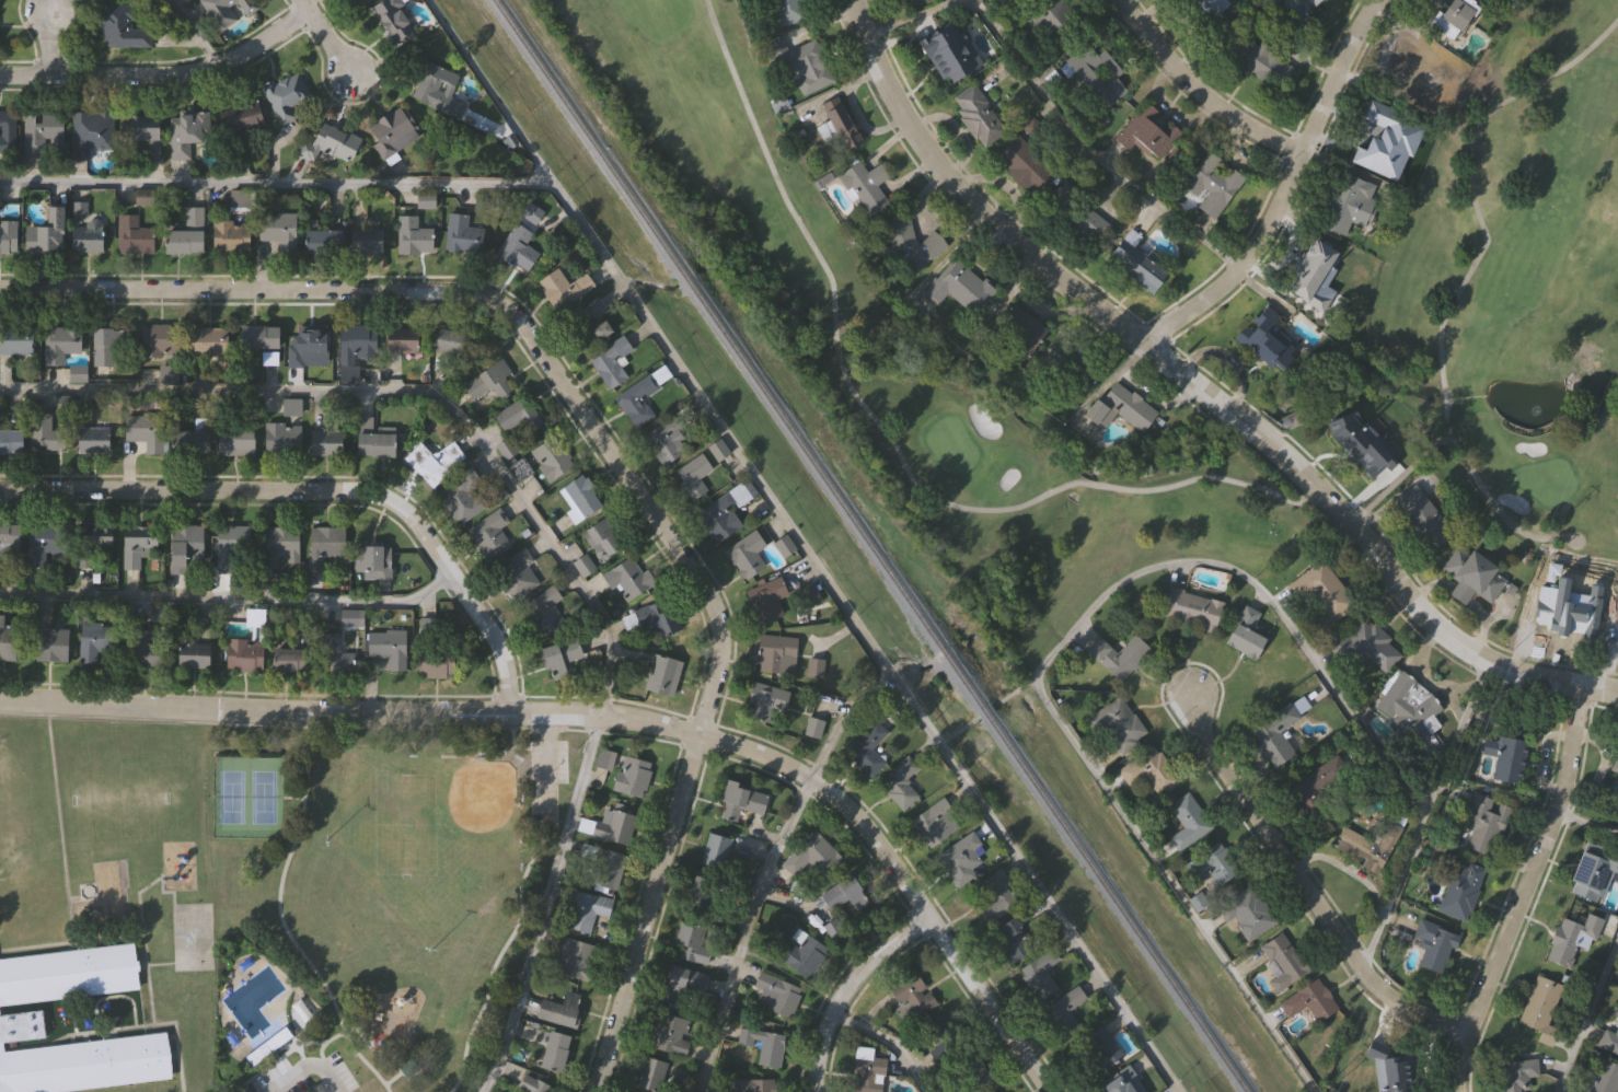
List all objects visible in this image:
building: (358, 1)
building: (1311, 1)
building: (1202, 8)
building: (229, 10)
building: (784, 10)
building: (1051, 14)
building: (1451, 16)
building: (397, 18)
building: (123, 24)
road: (195, 32)
road: (324, 35)
road: (48, 42)
building: (946, 50)
building: (1258, 59)
building: (805, 66)
building: (1094, 72)
building: (1403, 73)
road: (162, 74)
building: (439, 85)
road: (1203, 89)
building: (289, 93)
building: (976, 114)
road: (1053, 114)
building: (246, 115)
building: (835, 125)
building: (1369, 127)
building: (147, 128)
building: (194, 128)
building: (1145, 129)
building: (92, 130)
building: (396, 130)
building: (9, 132)
building: (46, 135)
building: (333, 142)
building: (1021, 165)
building: (1211, 182)
building: (864, 184)
road: (276, 185)
road: (1283, 189)
building: (240, 196)
building: (1349, 196)
building: (1087, 222)
building: (281, 224)
building: (89, 226)
building: (51, 231)
building: (189, 231)
building: (465, 232)
building: (10, 234)
building: (136, 234)
building: (233, 234)
building: (417, 234)
building: (372, 237)
building: (326, 240)
building: (910, 243)
building: (521, 246)
road: (1480, 254)
building: (1309, 267)
building: (1143, 270)
building: (567, 284)
building: (958, 284)
park: (1514, 286)
building: (592, 322)
building: (1024, 330)
building: (263, 335)
building: (407, 337)
building: (18, 338)
building: (162, 338)
building: (456, 338)
building: (1263, 338)
building: (211, 340)
building: (62, 341)
building: (308, 341)
building: (108, 345)
building: (358, 347)
park: (848, 353)
building: (271, 357)
building: (613, 359)
road: (1228, 359)
building: (489, 375)
road: (1188, 379)
road: (406, 393)
building: (644, 393)
building: (293, 405)
building: (1118, 405)
building: (521, 413)
building: (148, 427)
building: (48, 432)
building: (285, 435)
building: (332, 435)
building: (197, 437)
building: (669, 437)
building: (96, 438)
building: (377, 438)
road: (888, 438)
building: (13, 440)
building: (239, 440)
building: (1350, 441)
road: (608, 454)
building: (554, 456)
building: (435, 462)
building: (696, 474)
road: (322, 492)
building: (466, 495)
building: (583, 497)
building: (1420, 516)
building: (721, 518)
building: (493, 533)
building: (47, 539)
building: (10, 542)
building: (94, 542)
building: (189, 544)
building: (282, 544)
building: (140, 545)
building: (328, 545)
building: (787, 545)
road: (799, 546)
railway: (869, 546)
building: (234, 547)
building: (749, 553)
building: (374, 560)
building: (587, 565)
building: (519, 572)
building: (1471, 576)
building: (631, 577)
building: (1319, 594)
building: (770, 597)
road: (231, 601)
building: (1189, 608)
building: (546, 609)
building: (256, 616)
building: (353, 616)
building: (661, 616)
building: (632, 619)
building: (1565, 621)
building: (1244, 632)
building: (11, 639)
building: (96, 639)
building: (55, 643)
building: (391, 646)
building: (145, 647)
building: (1369, 648)
building: (334, 649)
road: (1053, 649)
building: (198, 651)
building: (778, 651)
building: (562, 653)
building: (246, 654)
building: (1116, 654)
building: (296, 660)
building: (438, 661)
building: (666, 673)
road: (1599, 688)
road: (1599, 692)
building: (767, 699)
building: (1409, 707)
road: (608, 718)
building: (1117, 721)
building: (813, 725)
building: (1276, 730)
building: (865, 746)
building: (603, 757)
building: (1507, 760)
road: (547, 764)
building: (1614, 768)
building: (1147, 770)
building: (631, 775)
building: (900, 780)
building: (1317, 786)
building: (739, 798)
park: (250, 799)
road: (1428, 817)
building: (935, 821)
building: (1187, 821)
building: (613, 823)
park: (452, 824)
road: (1586, 824)
park: (405, 825)
building: (1482, 825)
building: (1368, 846)
building: (715, 850)
building: (811, 853)
building: (961, 856)
building: (1209, 866)
building: (603, 868)
road: (763, 868)
building: (1592, 871)
road: (1299, 886)
building: (1460, 890)
road: (1522, 891)
building: (841, 892)
building: (706, 894)
building: (990, 895)
park: (372, 898)
road: (545, 905)
building: (586, 909)
building: (1245, 911)
road: (285, 927)
building: (1013, 937)
building: (1568, 937)
building: (691, 940)
building: (1432, 944)
building: (799, 948)
road: (498, 956)
building: (571, 957)
building: (1279, 961)
building: (68, 972)
building: (1037, 974)
building: (681, 983)
road: (846, 989)
building: (779, 994)
building: (912, 995)
building: (1307, 1000)
building: (1539, 1007)
building: (559, 1008)
building: (1064, 1011)
road: (1585, 1012)
building: (944, 1022)
building: (670, 1033)
building: (1609, 1036)
road: (888, 1041)
road: (320, 1042)
building: (268, 1044)
building: (758, 1046)
building: (553, 1049)
building: (1096, 1049)
building: (76, 1058)
road: (303, 1069)
building: (411, 1070)
building: (866, 1070)
building: (649, 1072)
building: (974, 1073)
building: (1389, 1074)
building: (1514, 1074)
building: (1603, 1078)
road: (392, 1079)
building: (1122, 1080)
building: (533, 1084)
building: (754, 1084)
building: (995, 1091)

